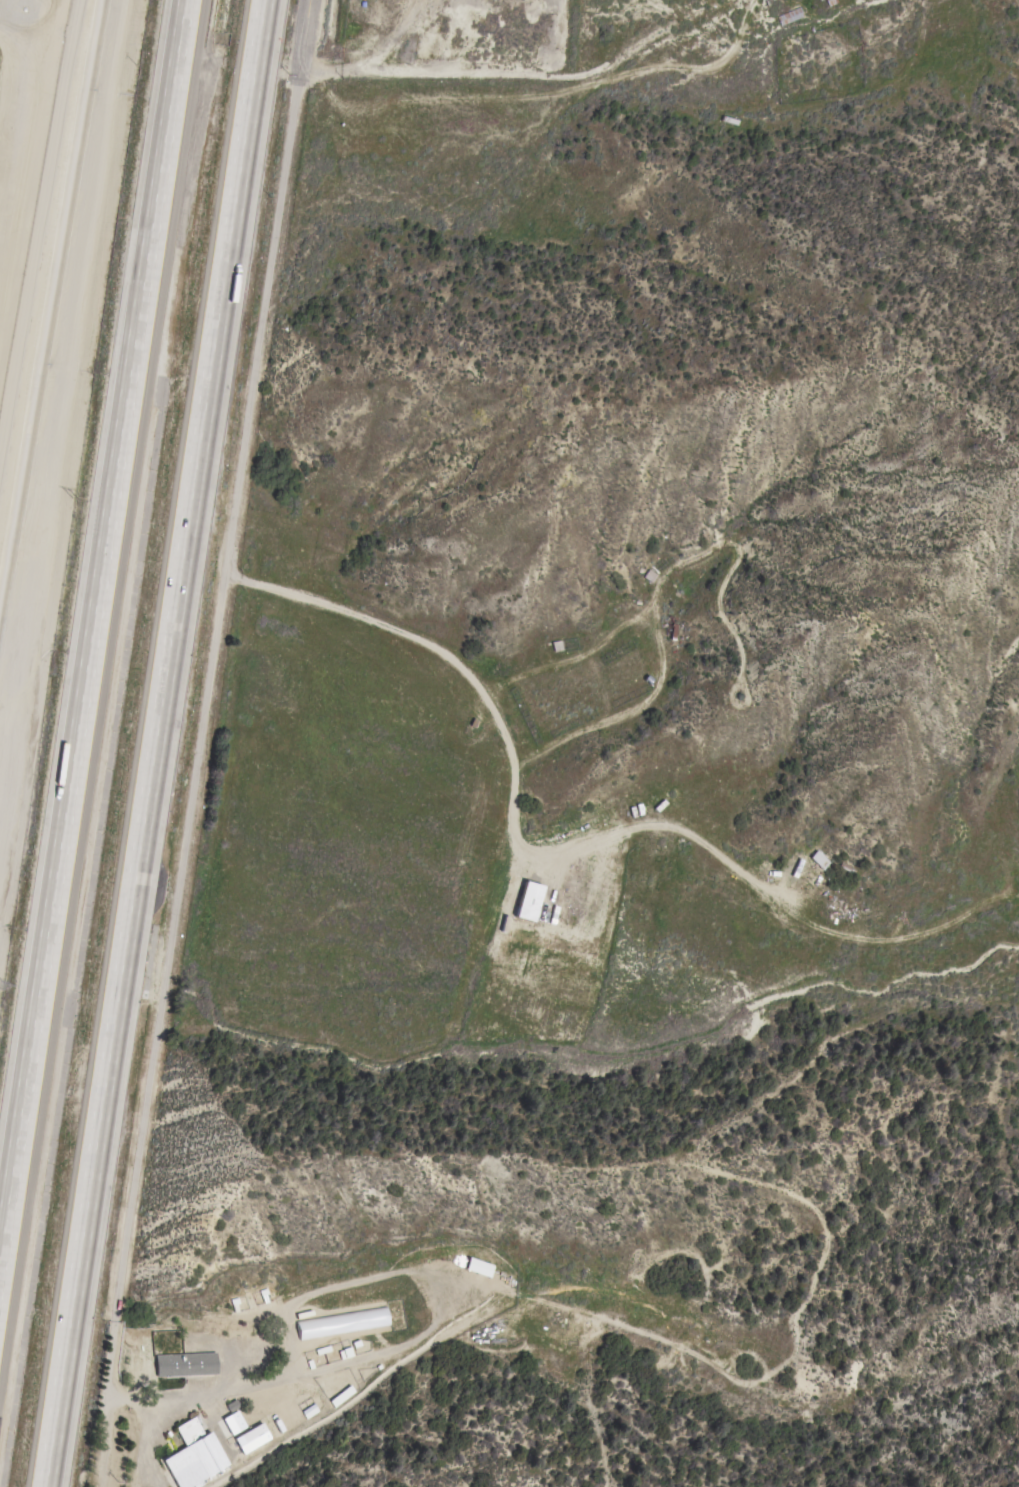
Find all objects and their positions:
building: (830, 2)
building: (788, 16)
road: (531, 75)
road: (92, 629)
road: (205, 699)
road: (156, 743)
building: (820, 859)
building: (528, 901)
building: (539, 912)
building: (478, 1267)
building: (343, 1323)
building: (345, 1352)
building: (186, 1364)
building: (342, 1396)
building: (311, 1410)
building: (233, 1418)
building: (252, 1438)
building: (195, 1456)

